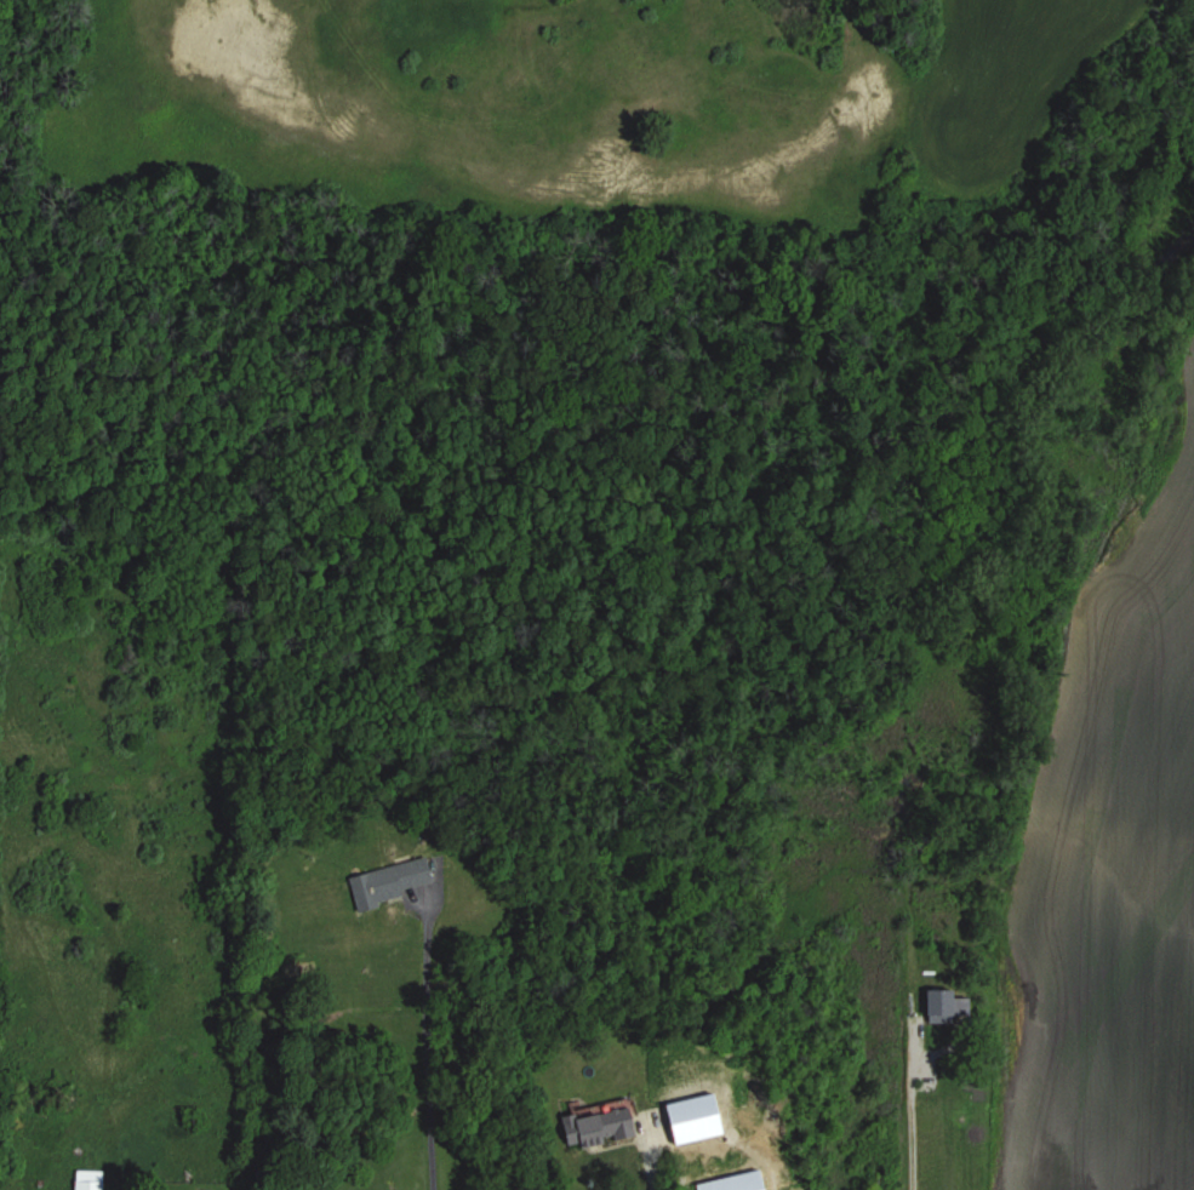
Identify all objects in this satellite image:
road: (909, 648)
building: (390, 881)
building: (941, 1005)
road: (429, 1040)
building: (600, 1125)
road: (646, 1157)
building: (88, 1185)

